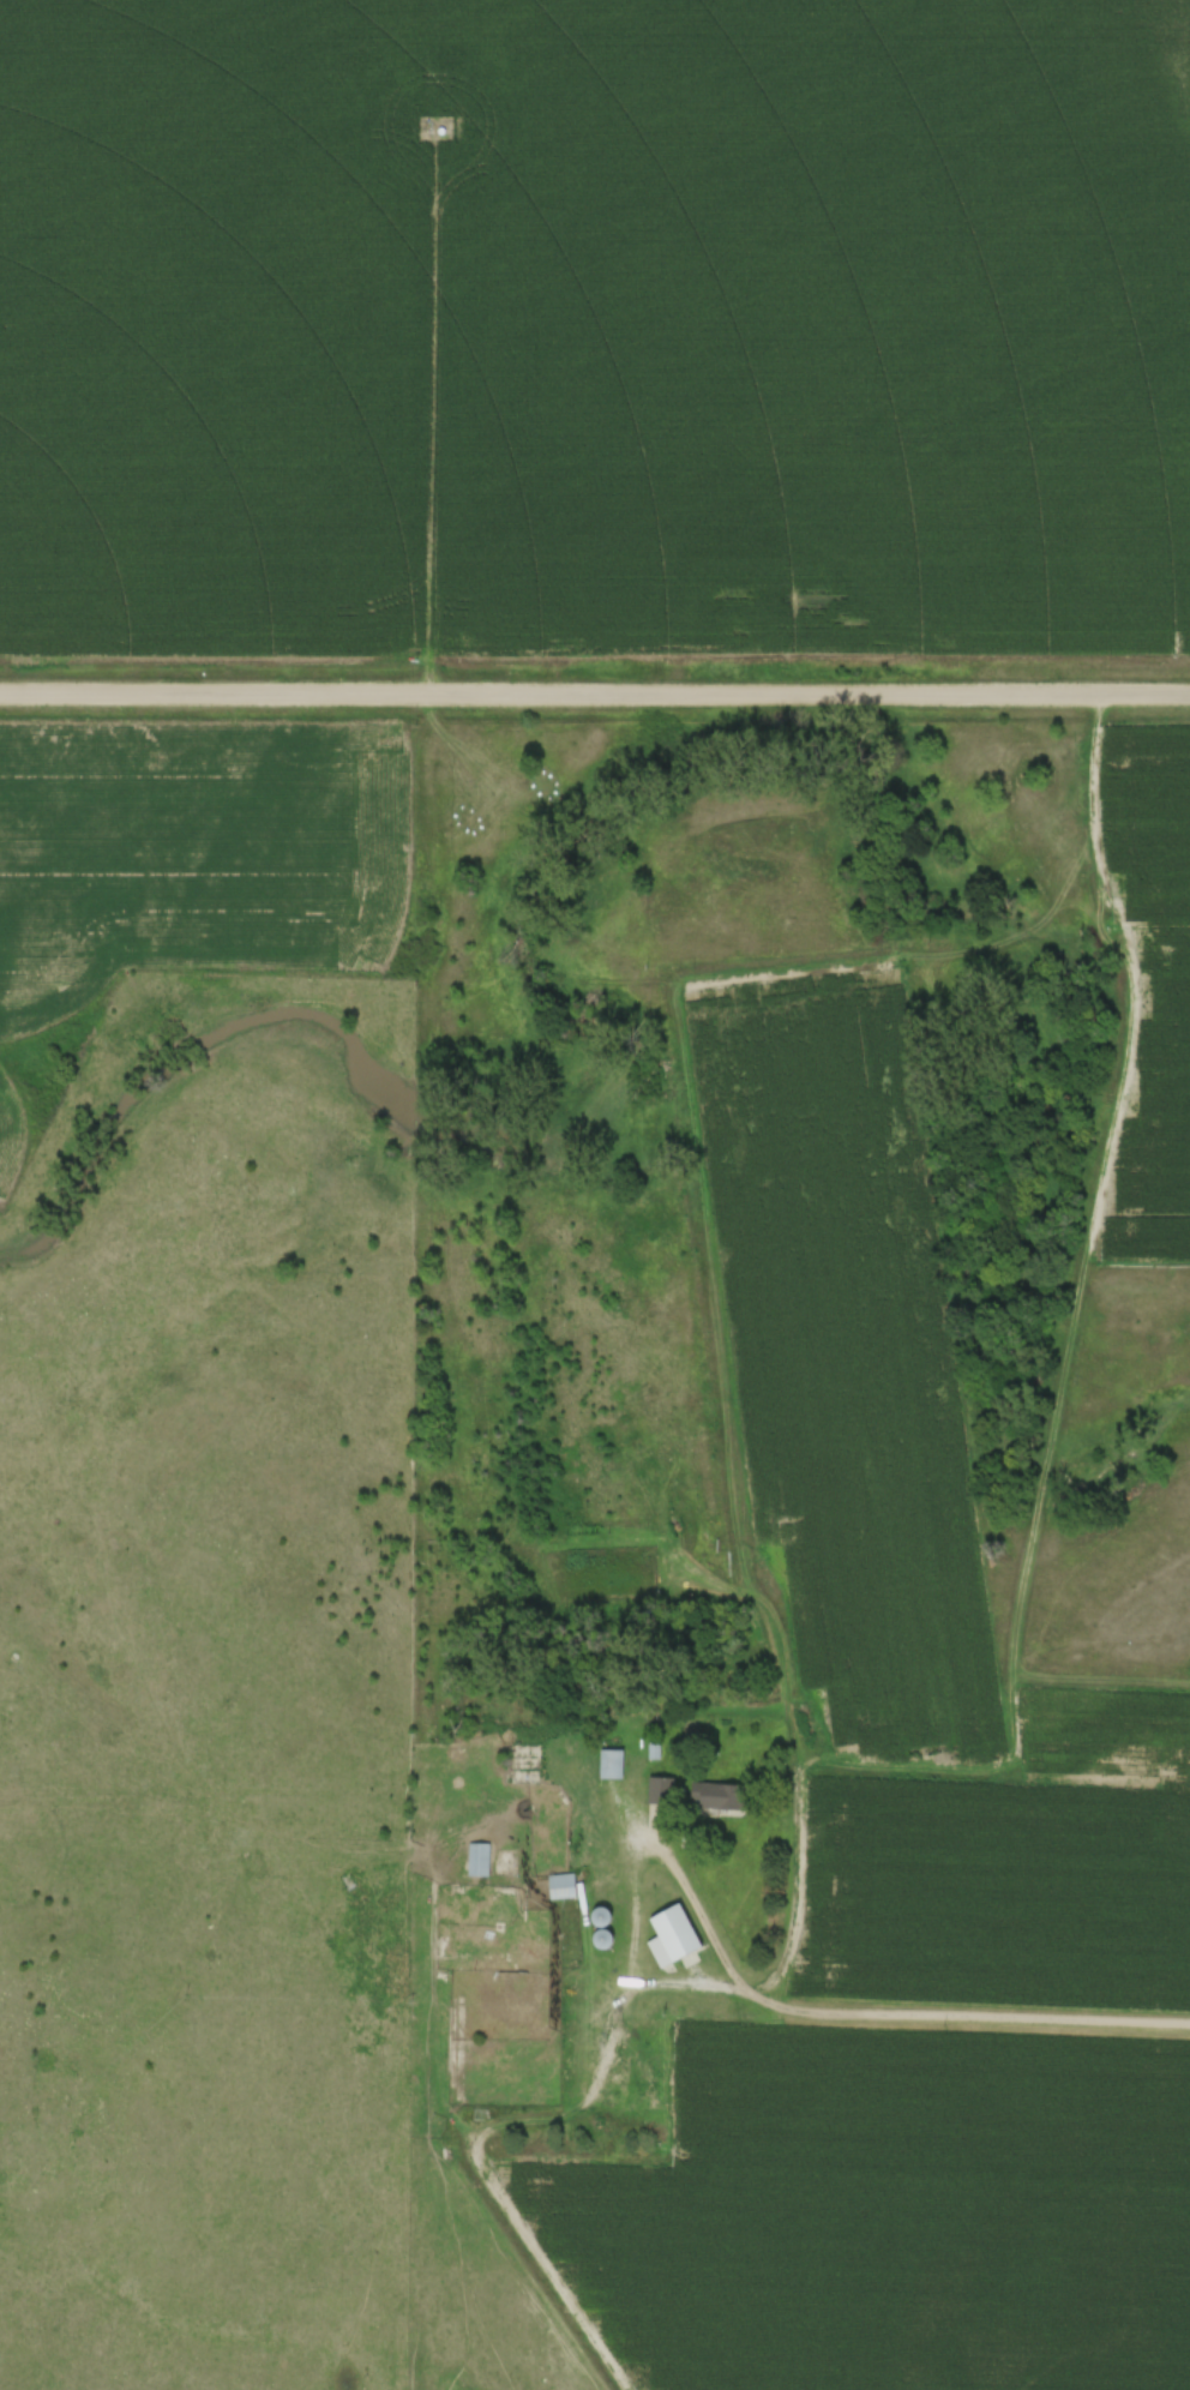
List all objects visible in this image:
road: (594, 693)
building: (651, 1751)
building: (611, 1763)
building: (661, 1789)
building: (720, 1794)
building: (477, 1857)
road: (635, 1879)
building: (564, 1885)
building: (674, 1935)
road: (966, 2019)

